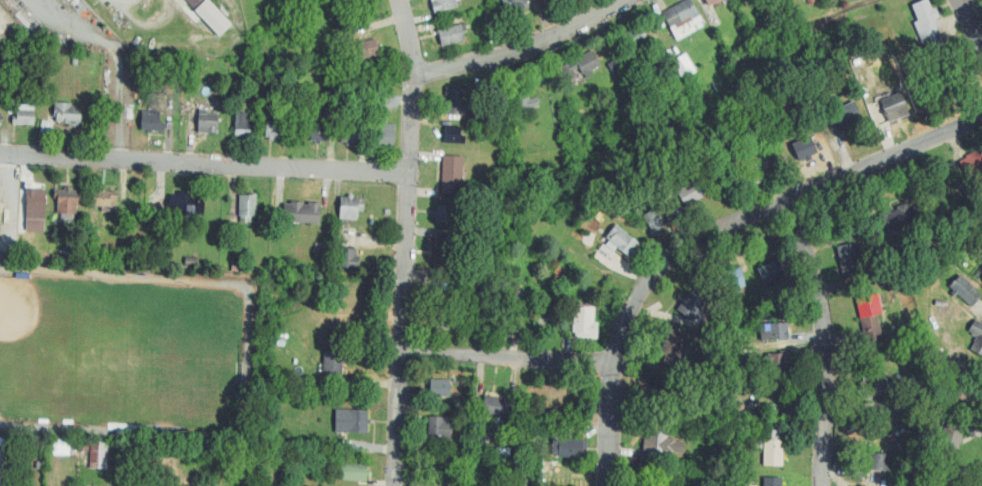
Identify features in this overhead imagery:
building: (195, 2)
building: (711, 2)
building: (443, 5)
building: (514, 5)
building: (678, 12)
road: (972, 17)
building: (927, 21)
building: (450, 34)
building: (634, 38)
road: (520, 47)
building: (367, 48)
building: (615, 64)
building: (684, 64)
road: (118, 65)
building: (579, 65)
building: (522, 97)
building: (455, 100)
building: (893, 105)
building: (66, 112)
building: (847, 114)
building: (22, 118)
building: (1, 119)
building: (208, 122)
building: (151, 123)
building: (242, 123)
building: (46, 126)
building: (272, 128)
building: (319, 130)
building: (349, 135)
building: (453, 135)
building: (385, 136)
building: (802, 148)
road: (204, 162)
building: (973, 163)
building: (763, 166)
building: (451, 175)
building: (689, 193)
building: (102, 197)
building: (0, 198)
building: (66, 200)
building: (35, 203)
building: (186, 205)
building: (246, 207)
building: (349, 208)
building: (301, 213)
building: (444, 213)
building: (894, 217)
building: (655, 218)
road: (712, 234)
building: (622, 240)
road: (405, 242)
building: (444, 249)
building: (349, 258)
building: (850, 260)
building: (770, 272)
building: (732, 279)
building: (445, 291)
building: (691, 306)
building: (870, 316)
building: (442, 320)
building: (584, 322)
building: (778, 330)
park: (38, 332)
road: (826, 340)
building: (977, 342)
building: (674, 344)
road: (507, 356)
building: (777, 359)
building: (332, 364)
building: (873, 385)
building: (962, 386)
building: (439, 387)
building: (662, 390)
building: (495, 405)
building: (350, 421)
building: (441, 427)
building: (777, 432)
building: (660, 443)
building: (949, 443)
building: (569, 447)
building: (773, 452)
building: (100, 454)
building: (884, 461)
building: (4, 465)
building: (353, 472)
building: (772, 481)

